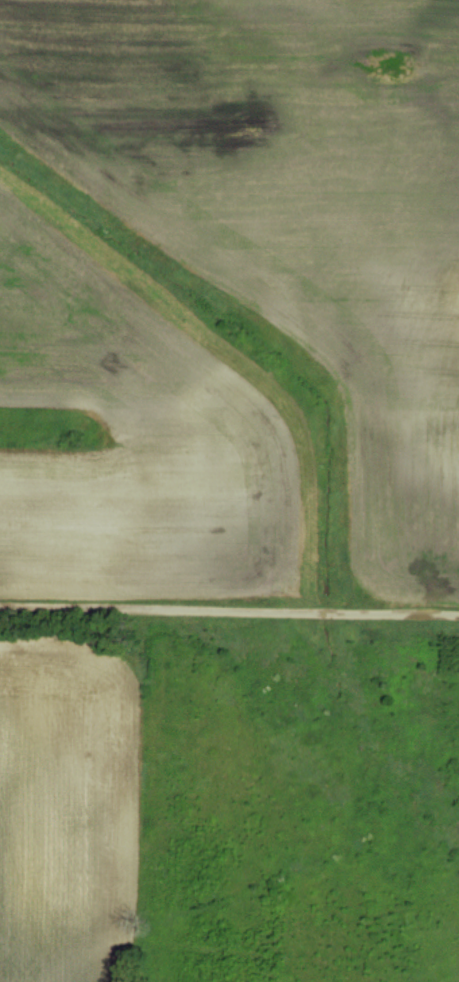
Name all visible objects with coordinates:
road: (229, 610)

